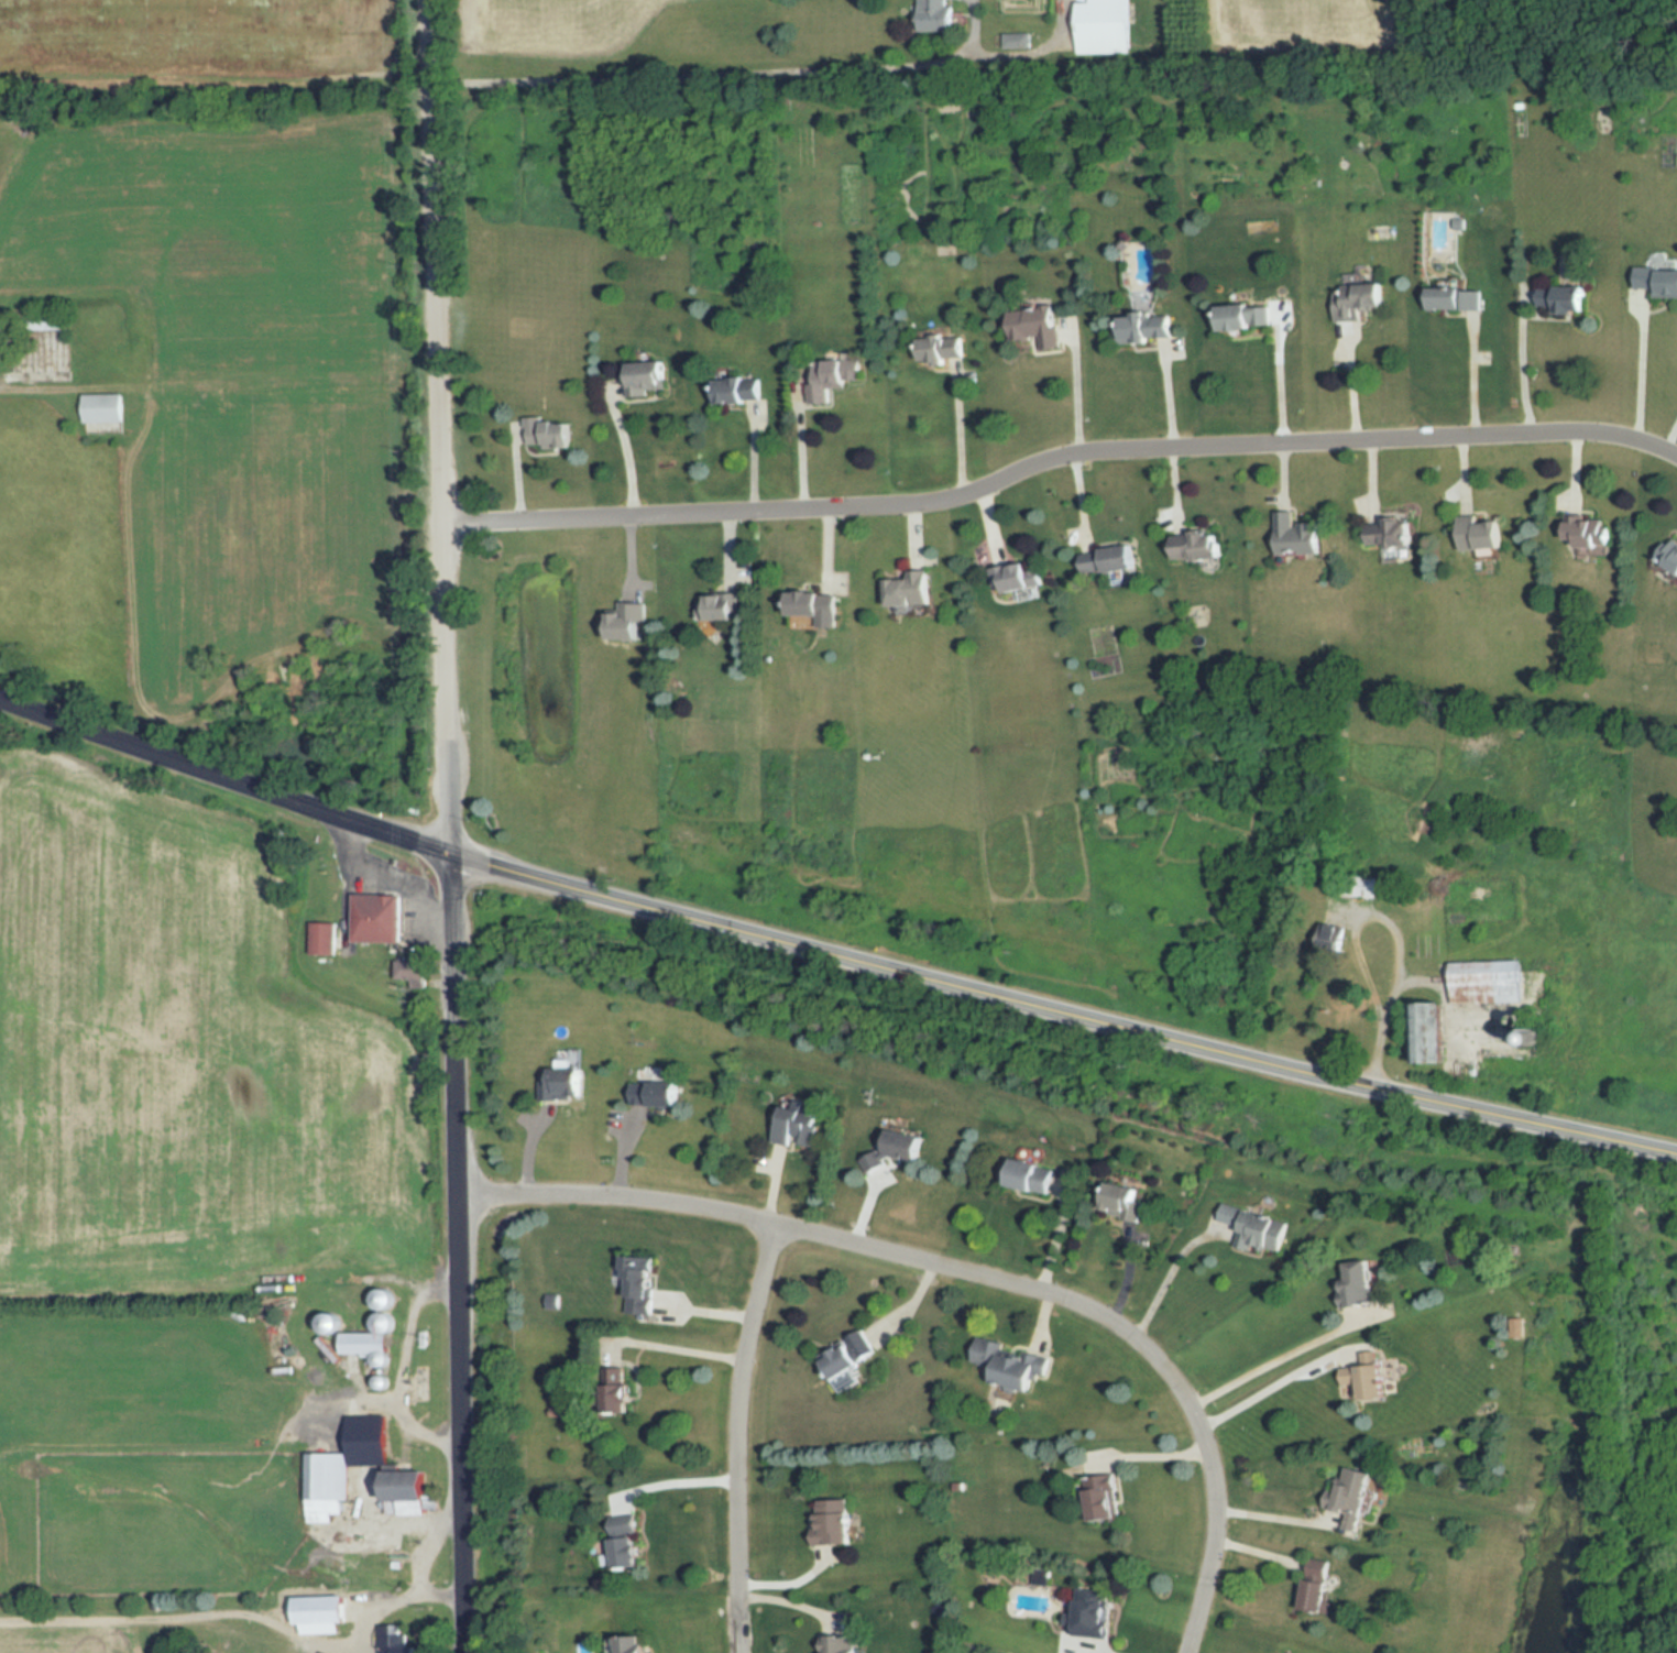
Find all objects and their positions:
building: (935, 15)
building: (1104, 26)
building: (1017, 40)
road: (699, 76)
building: (1657, 278)
building: (1360, 296)
building: (1566, 298)
building: (1453, 299)
building: (1243, 317)
building: (1037, 326)
building: (1147, 327)
building: (946, 347)
road: (1524, 359)
road: (1642, 373)
road: (1473, 376)
building: (648, 377)
building: (834, 377)
road: (1282, 382)
road: (1352, 382)
road: (1076, 385)
building: (741, 388)
building: (105, 407)
road: (958, 426)
road: (440, 427)
building: (551, 434)
road: (1670, 435)
road: (805, 447)
road: (627, 457)
road: (1057, 457)
building: (1392, 530)
building: (1588, 530)
building: (1482, 533)
building: (1300, 535)
building: (1198, 546)
building: (1668, 556)
building: (1111, 559)
building: (1017, 578)
building: (912, 589)
building: (819, 605)
building: (725, 606)
road: (224, 778)
traffic signals: (450, 855)
road: (387, 878)
building: (1361, 885)
building: (379, 909)
road: (1358, 937)
building: (325, 938)
building: (1333, 938)
building: (1486, 970)
building: (413, 971)
road: (1062, 1009)
building: (1429, 1035)
building: (566, 1083)
building: (658, 1093)
building: (799, 1129)
building: (907, 1146)
building: (873, 1164)
building: (1032, 1176)
building: (1122, 1201)
building: (1258, 1229)
road: (460, 1254)
road: (971, 1273)
road: (1169, 1280)
building: (642, 1284)
building: (1359, 1284)
building: (384, 1300)
building: (330, 1323)
building: (371, 1339)
road: (682, 1351)
building: (846, 1358)
building: (1012, 1362)
road: (1269, 1366)
road: (406, 1370)
building: (1371, 1376)
road: (1268, 1393)
building: (623, 1397)
road: (735, 1436)
road: (678, 1484)
building: (328, 1487)
building: (413, 1489)
building: (1352, 1495)
building: (1105, 1498)
road: (1274, 1517)
building: (836, 1521)
building: (626, 1541)
road: (429, 1547)
building: (1320, 1585)
building: (322, 1609)
building: (1098, 1611)
road: (252, 1618)
building: (396, 1639)
building: (844, 1643)
building: (631, 1644)
road: (364, 1651)

